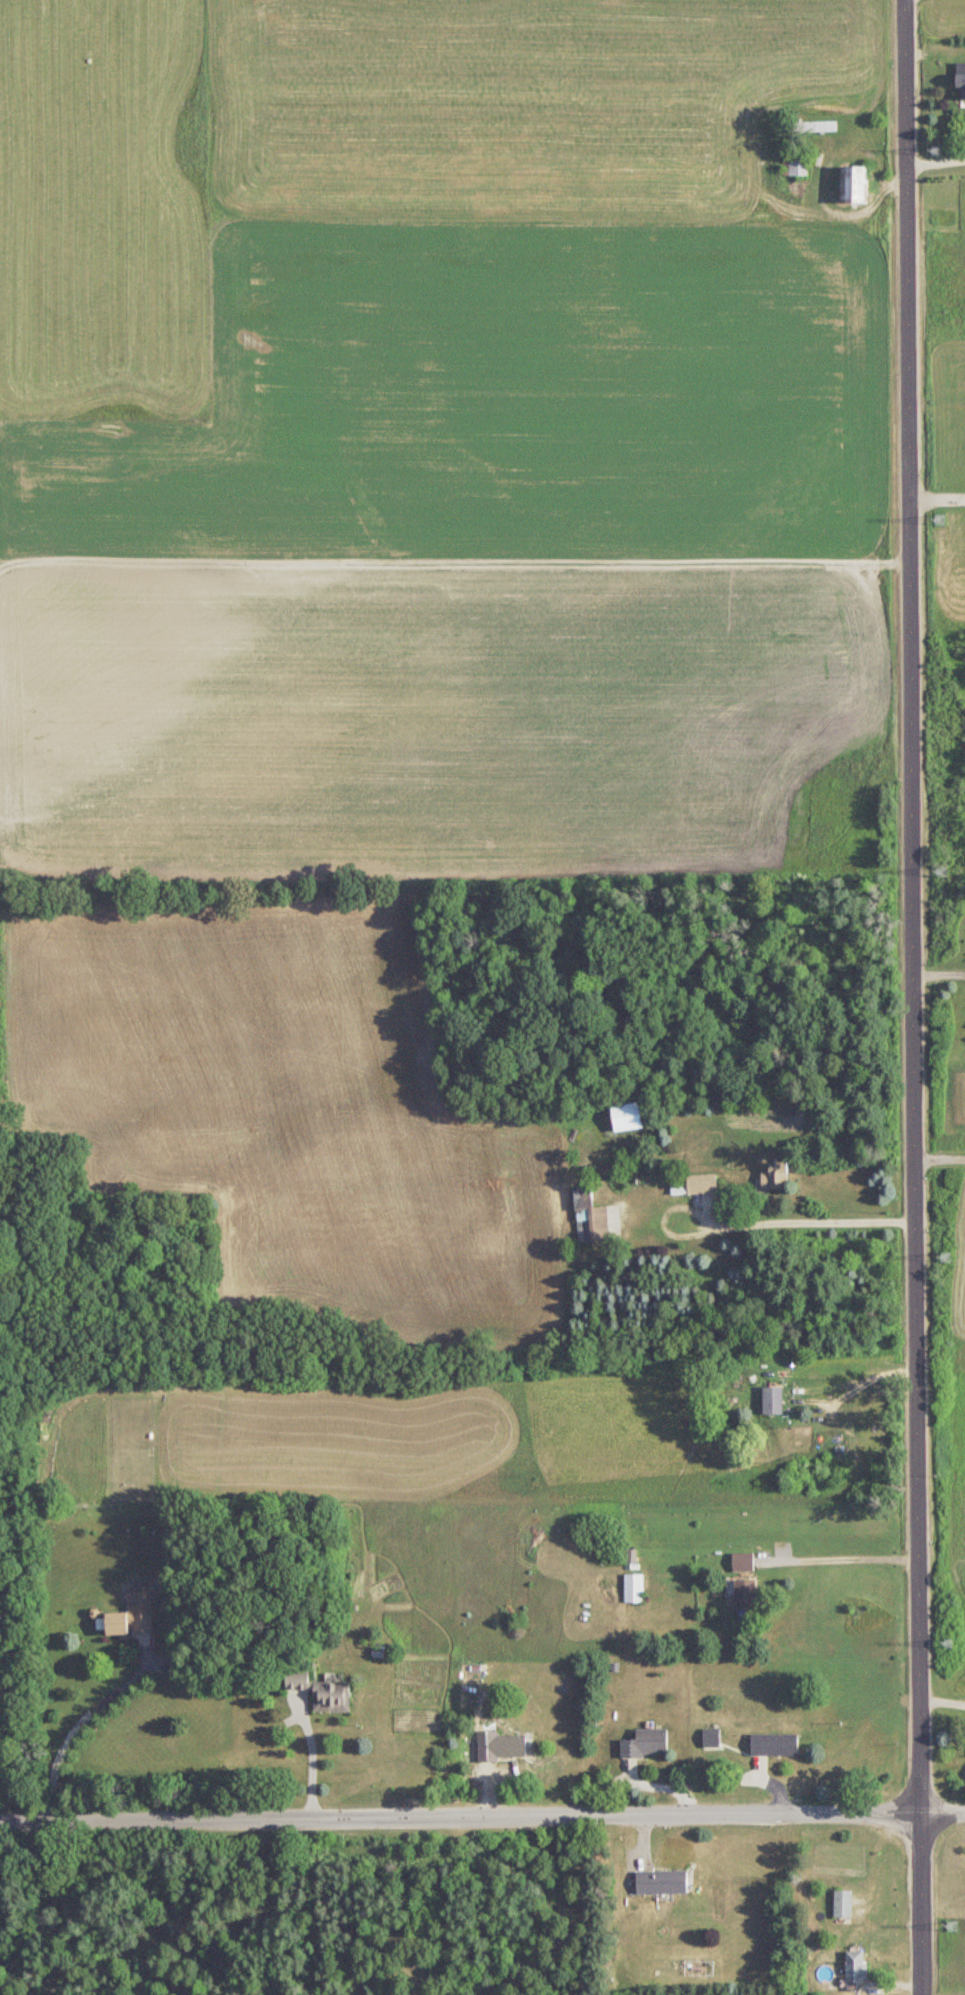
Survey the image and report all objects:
building: (961, 80)
building: (814, 126)
power tower: (937, 150)
road: (935, 162)
building: (798, 163)
building: (854, 184)
road: (937, 500)
power tower: (941, 519)
power tower: (942, 871)
road: (939, 978)
road: (913, 997)
building: (626, 1117)
road: (939, 1163)
building: (774, 1177)
building: (701, 1185)
building: (590, 1218)
road: (764, 1234)
power tower: (948, 1256)
road: (863, 1380)
building: (773, 1402)
building: (743, 1562)
road: (852, 1562)
building: (634, 1588)
building: (745, 1594)
building: (127, 1623)
power tower: (948, 1642)
building: (321, 1692)
road: (78, 1725)
building: (711, 1739)
building: (646, 1743)
building: (510, 1745)
building: (773, 1745)
road: (309, 1766)
road: (482, 1820)
building: (661, 1882)
building: (843, 1905)
power tower: (952, 1926)
building: (856, 1968)

